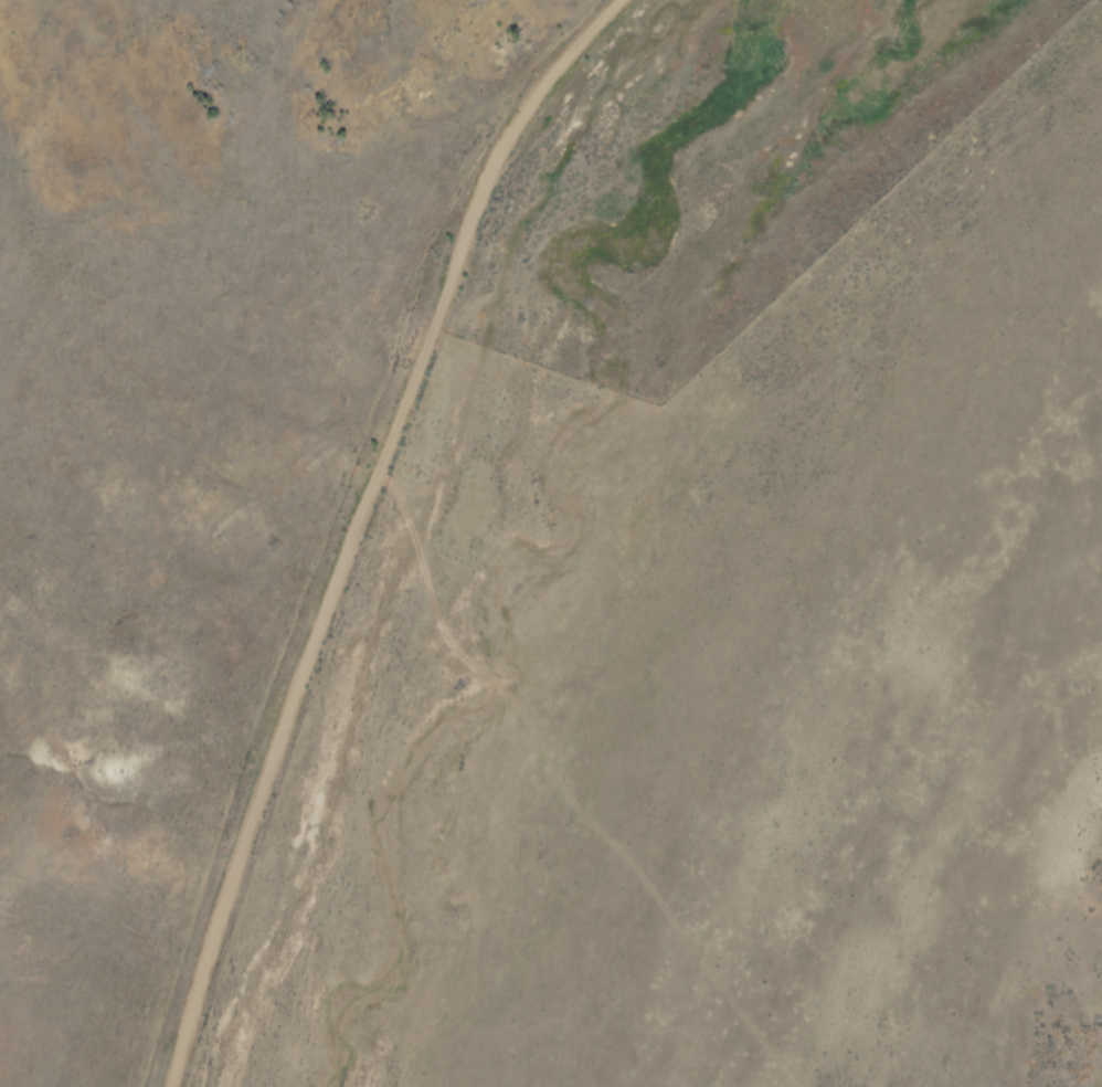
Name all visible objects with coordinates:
road: (354, 526)

